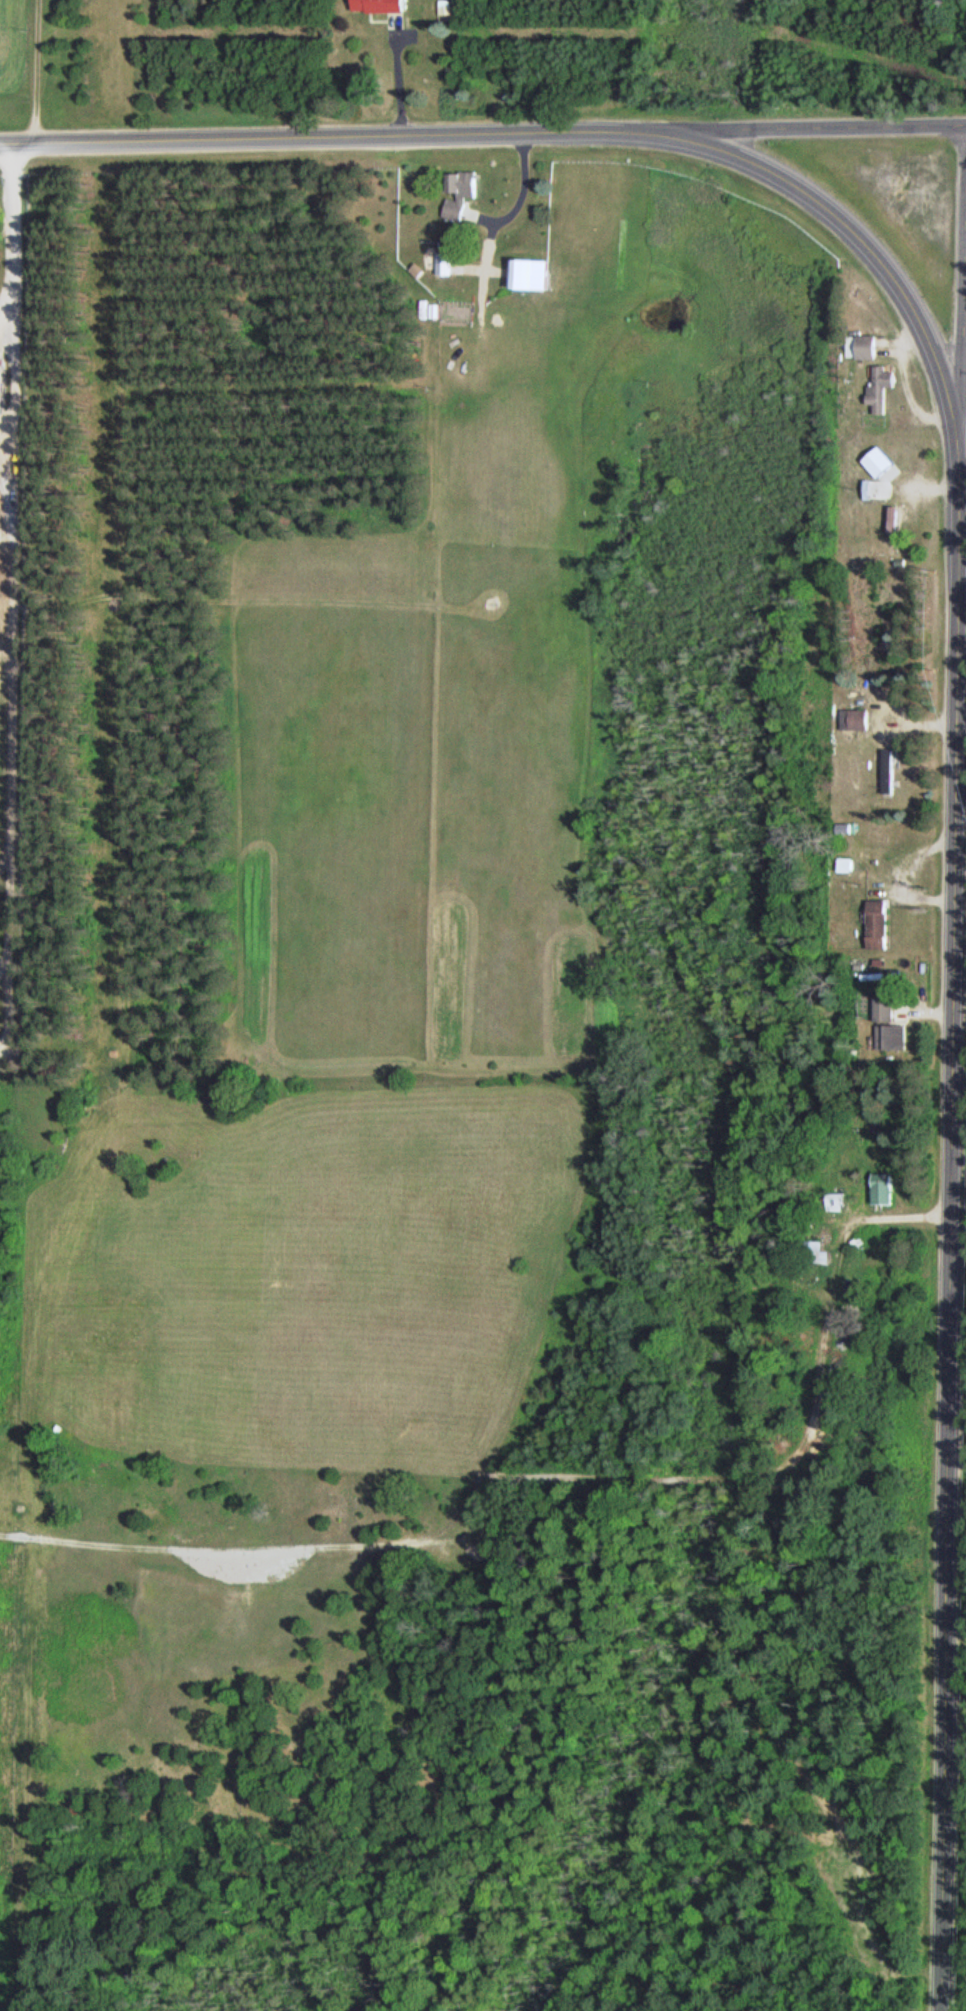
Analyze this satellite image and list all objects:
building: (384, 6)
road: (818, 131)
road: (335, 143)
road: (524, 191)
building: (466, 193)
road: (853, 235)
building: (448, 263)
building: (539, 273)
road: (961, 330)
building: (861, 348)
building: (1, 382)
road: (13, 386)
building: (875, 388)
building: (872, 462)
building: (895, 528)
road: (963, 575)
road: (1, 582)
building: (855, 717)
building: (887, 770)
building: (842, 866)
building: (875, 925)
building: (890, 1038)
building: (879, 1190)
building: (832, 1203)
road: (952, 1213)
building: (813, 1253)

